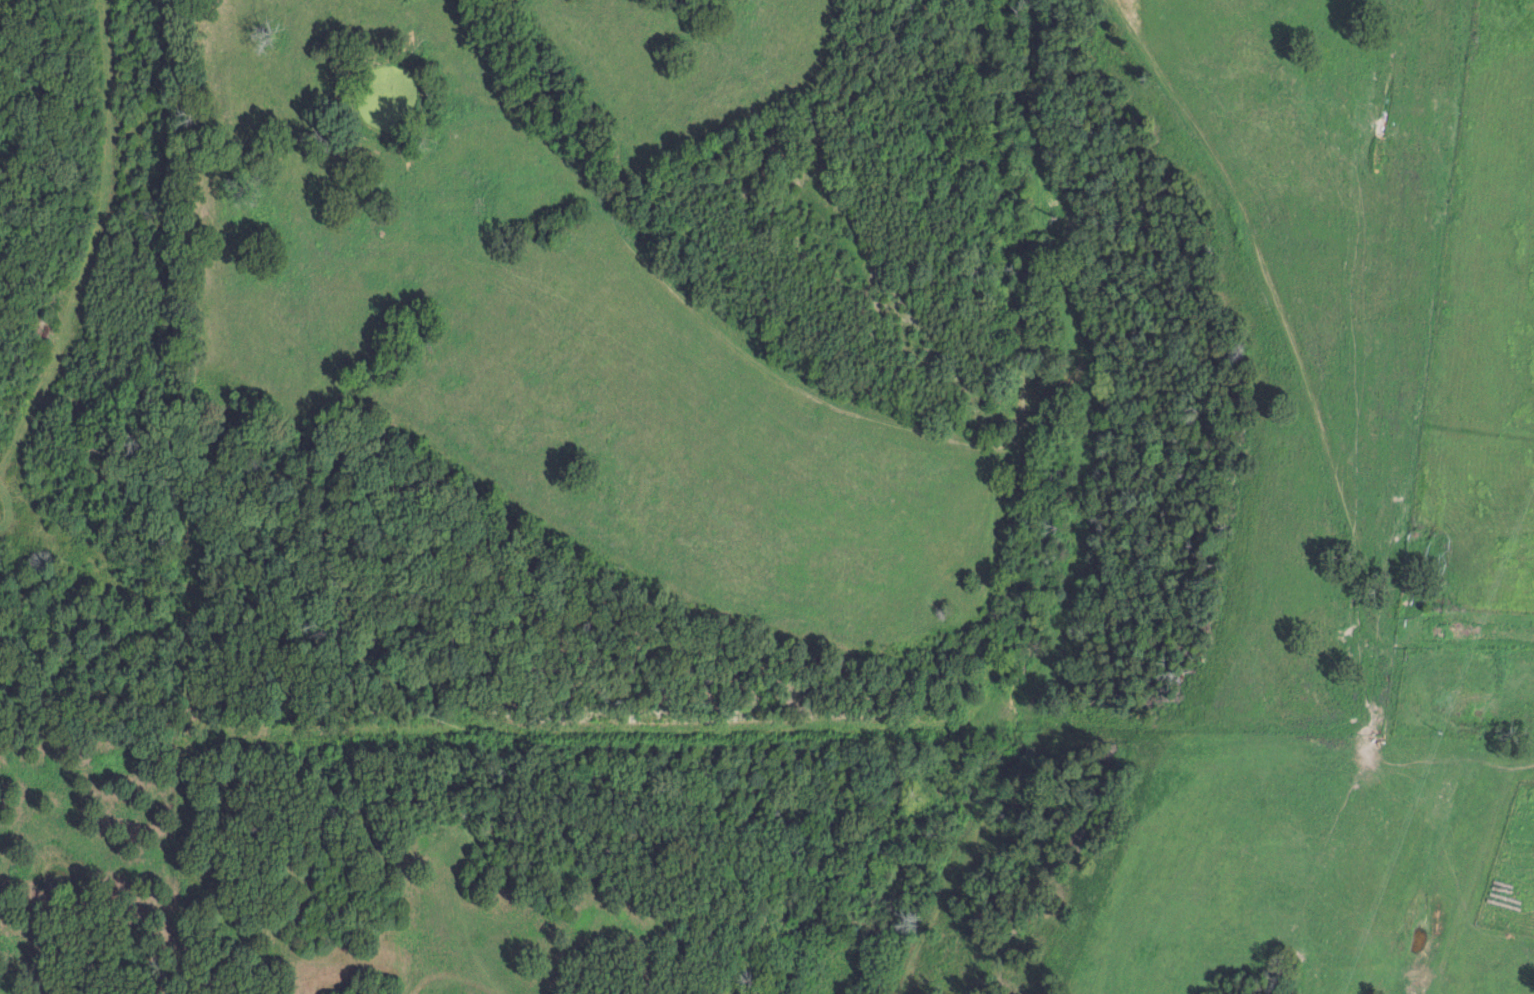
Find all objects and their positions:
road: (1463, 640)
road: (1301, 774)

